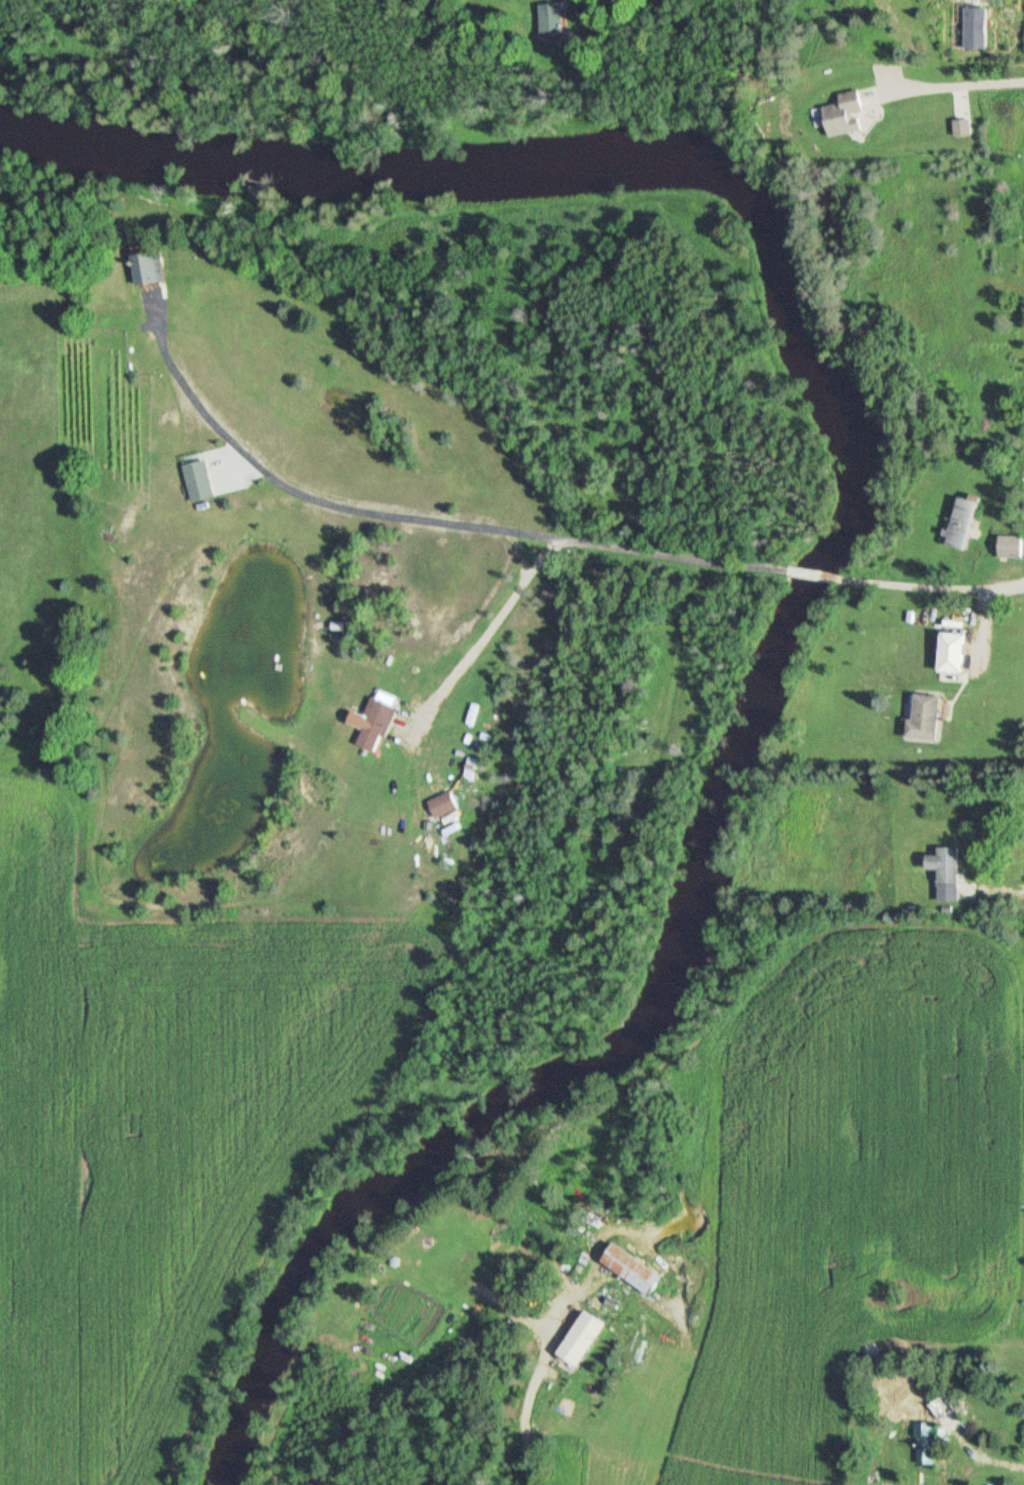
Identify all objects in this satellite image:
building: (554, 21)
building: (974, 29)
road: (947, 88)
building: (843, 115)
river: (345, 184)
building: (149, 270)
building: (196, 483)
road: (408, 520)
building: (963, 525)
building: (1010, 548)
road: (816, 576)
road: (935, 589)
building: (952, 654)
building: (924, 719)
building: (376, 721)
building: (444, 806)
building: (946, 873)
river: (696, 877)
building: (583, 1338)
road: (529, 1383)
building: (943, 1409)
building: (925, 1444)

